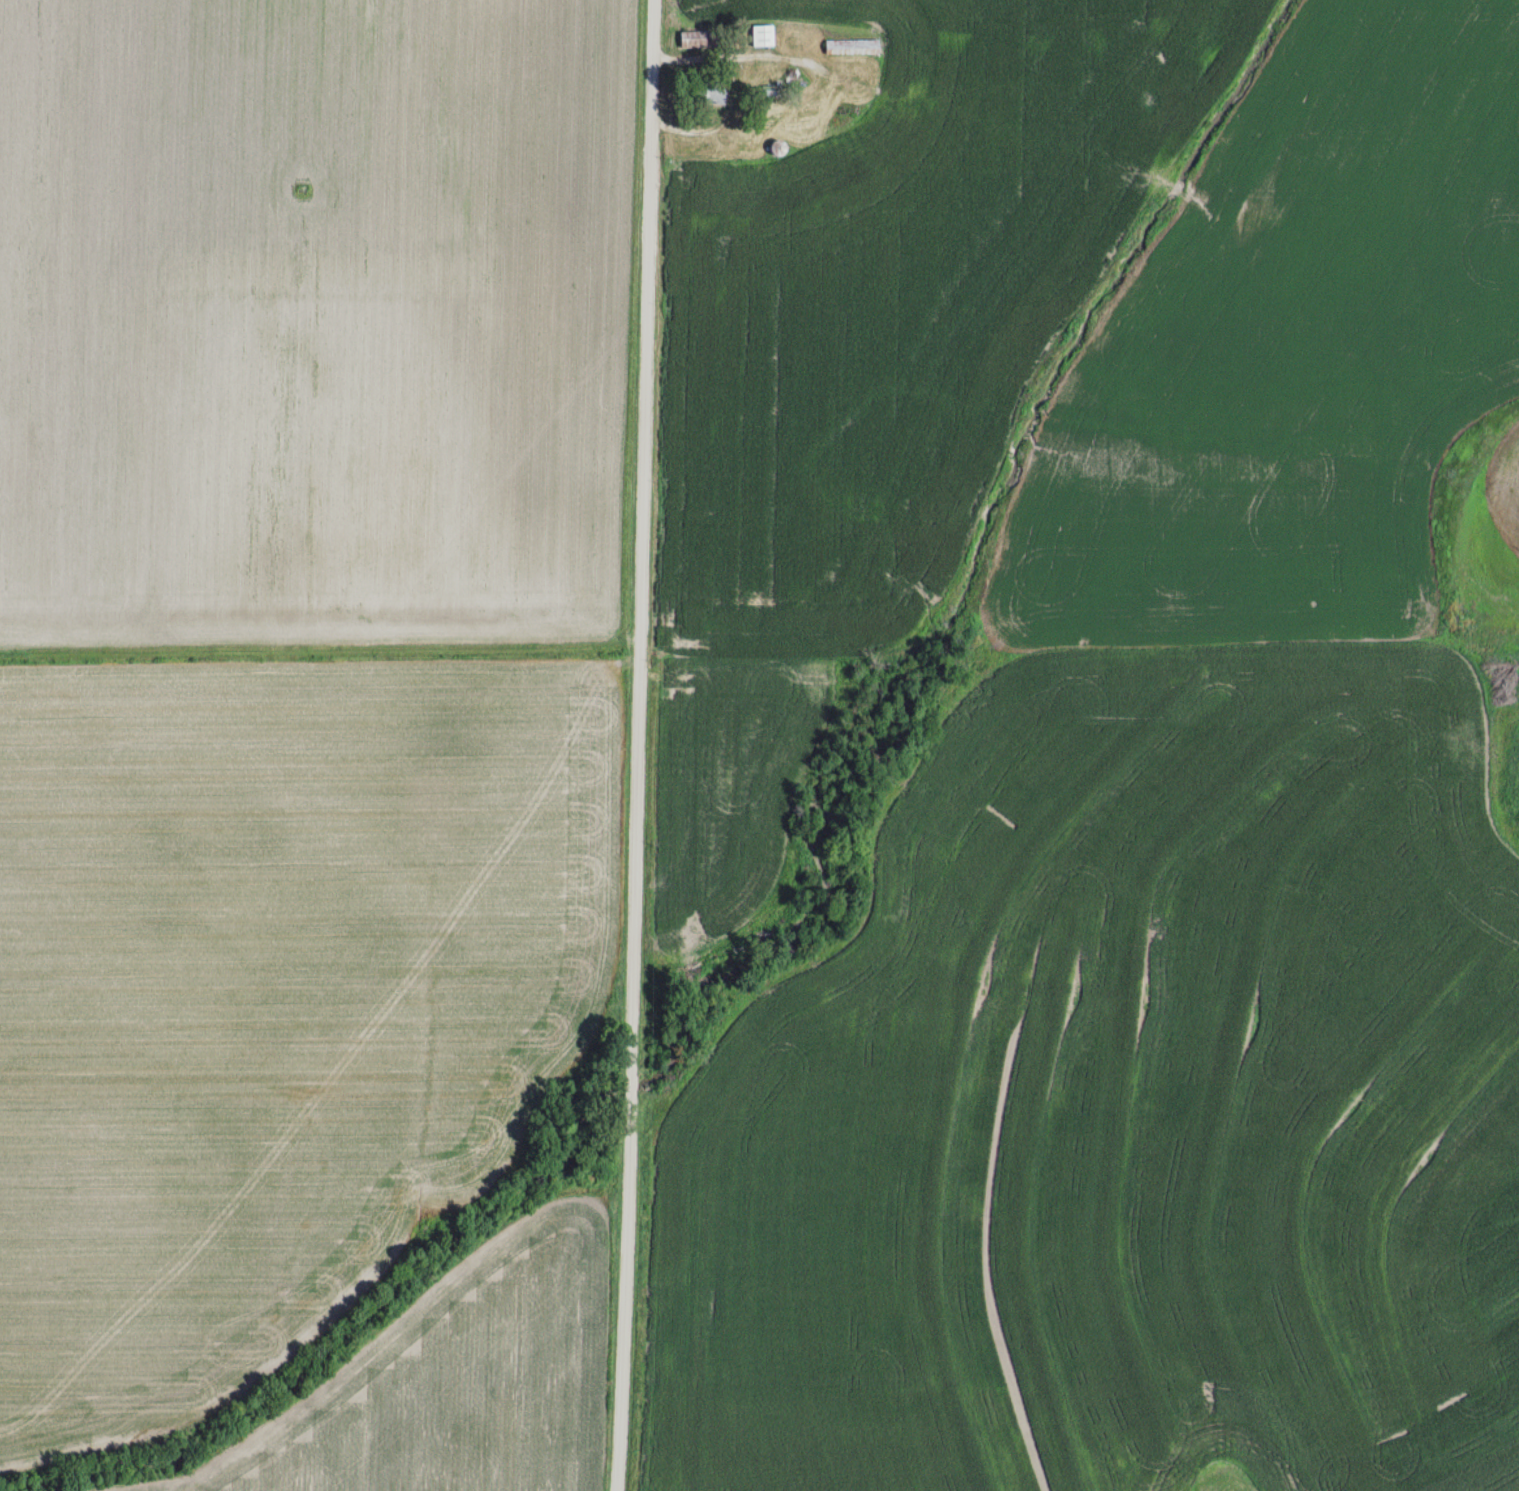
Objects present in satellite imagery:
building: (762, 35)
building: (702, 39)
building: (849, 46)
road: (735, 90)
building: (712, 92)
building: (769, 92)
building: (779, 146)
road: (319, 650)
road: (637, 745)

